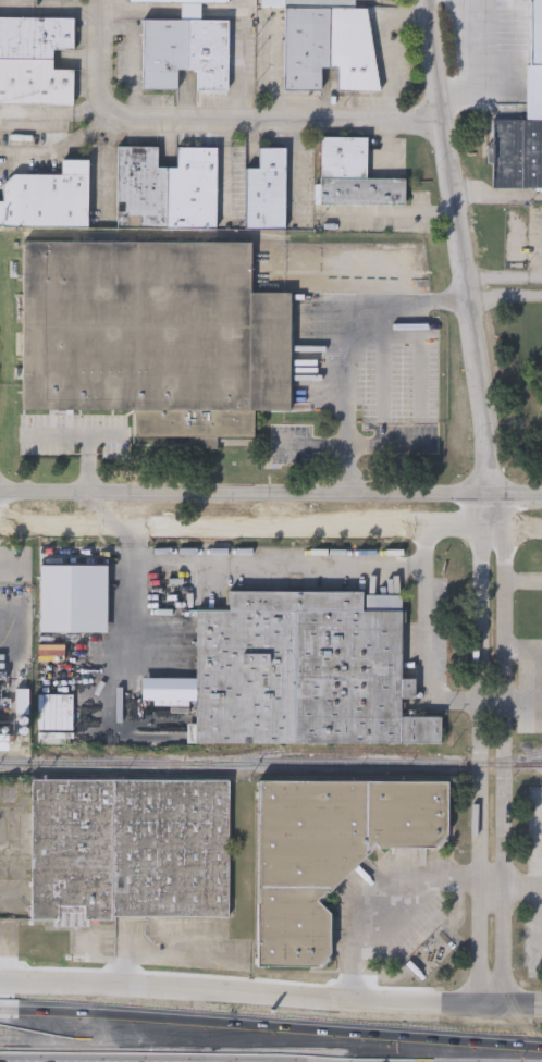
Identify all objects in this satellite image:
building: (177, 1)
building: (320, 3)
building: (306, 46)
building: (353, 50)
building: (185, 53)
building: (35, 61)
road: (466, 63)
road: (402, 82)
road: (214, 127)
building: (517, 155)
building: (354, 176)
building: (167, 190)
building: (267, 193)
building: (48, 199)
road: (396, 214)
road: (466, 263)
road: (505, 277)
road: (506, 297)
road: (343, 312)
building: (153, 336)
road: (58, 435)
road: (391, 443)
road: (311, 445)
road: (89, 446)
road: (348, 468)
road: (270, 491)
road: (270, 528)
road: (424, 549)
road: (10, 564)
road: (393, 568)
road: (525, 583)
road: (135, 590)
building: (305, 671)
road: (493, 701)
railway: (11, 749)
railway: (304, 750)
railway: (531, 755)
road: (481, 764)
road: (505, 764)
railway: (271, 765)
building: (130, 849)
building: (329, 852)
road: (541, 854)
road: (492, 889)
road: (523, 890)
road: (390, 912)
road: (162, 952)
road: (424, 956)
road: (270, 992)
road: (271, 1024)

